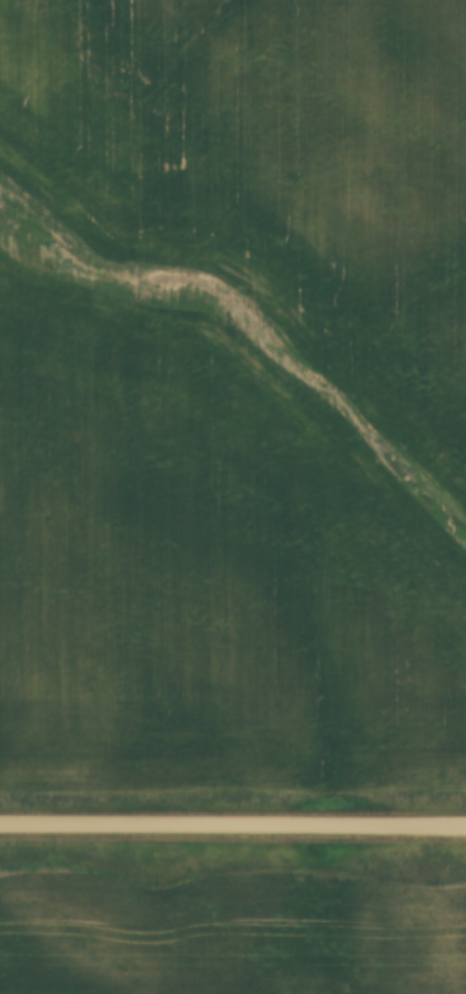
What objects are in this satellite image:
road: (233, 821)

